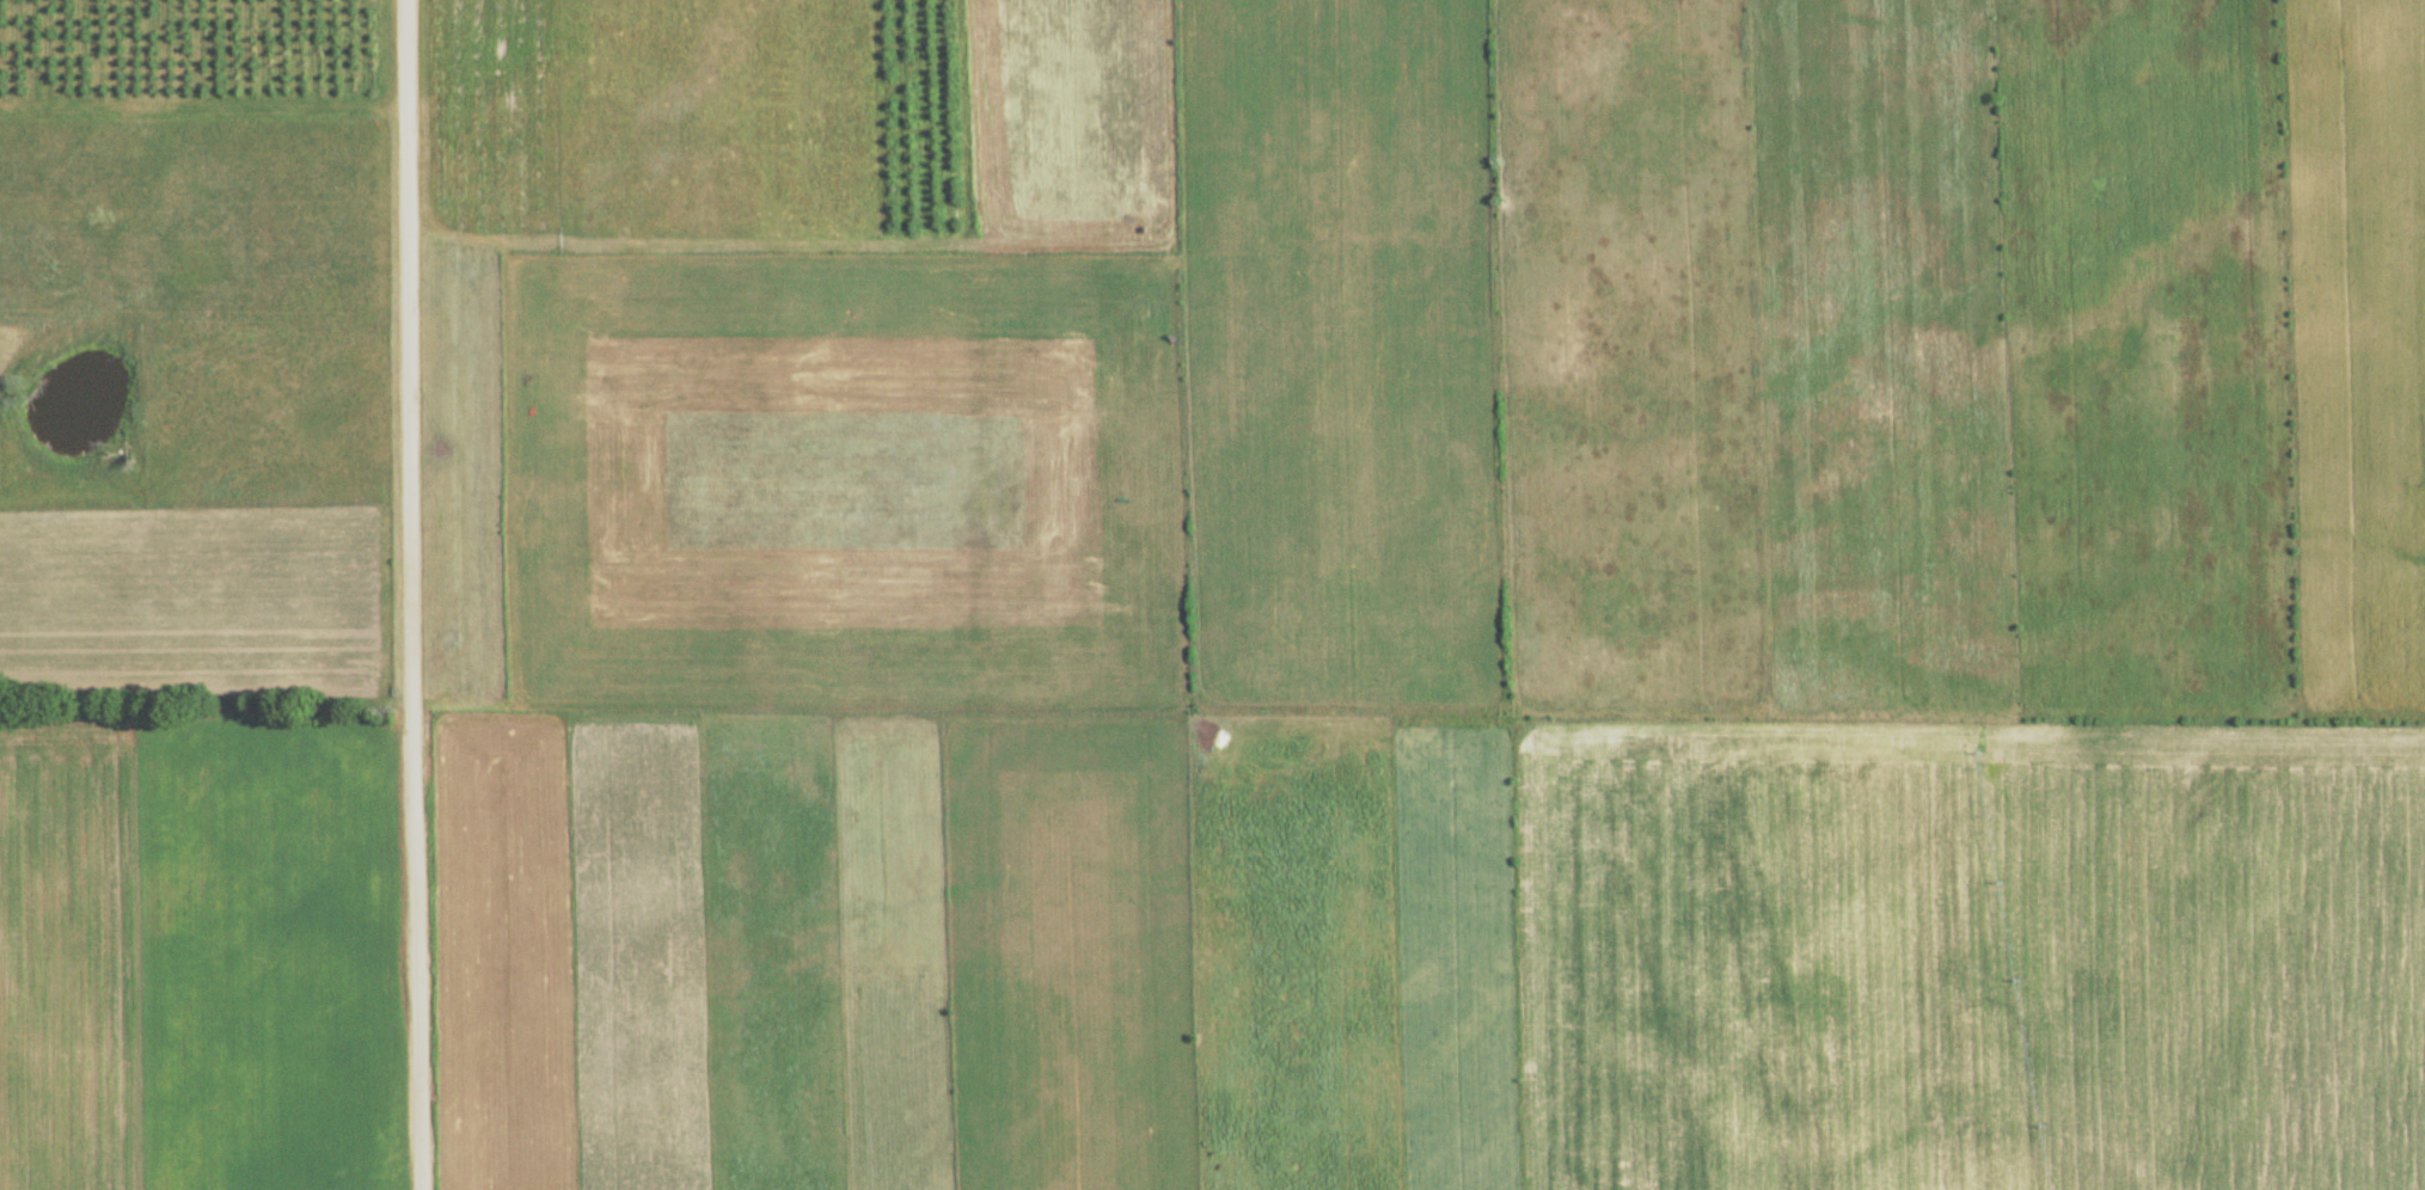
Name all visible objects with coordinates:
road: (414, 595)

